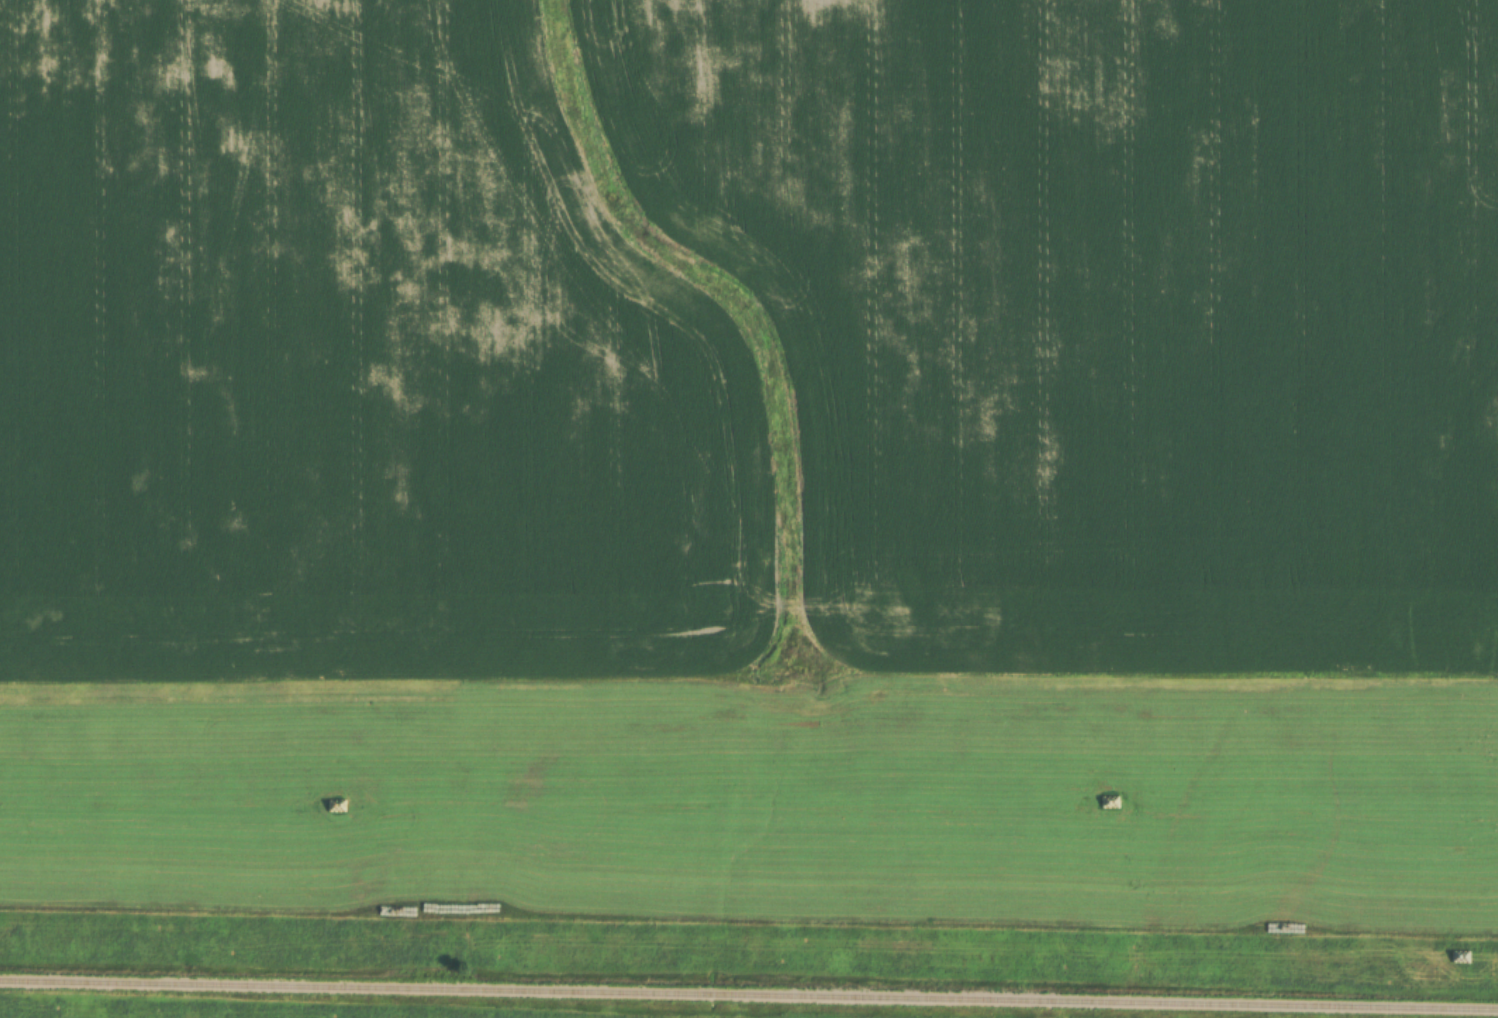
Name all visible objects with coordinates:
railway: (749, 996)

